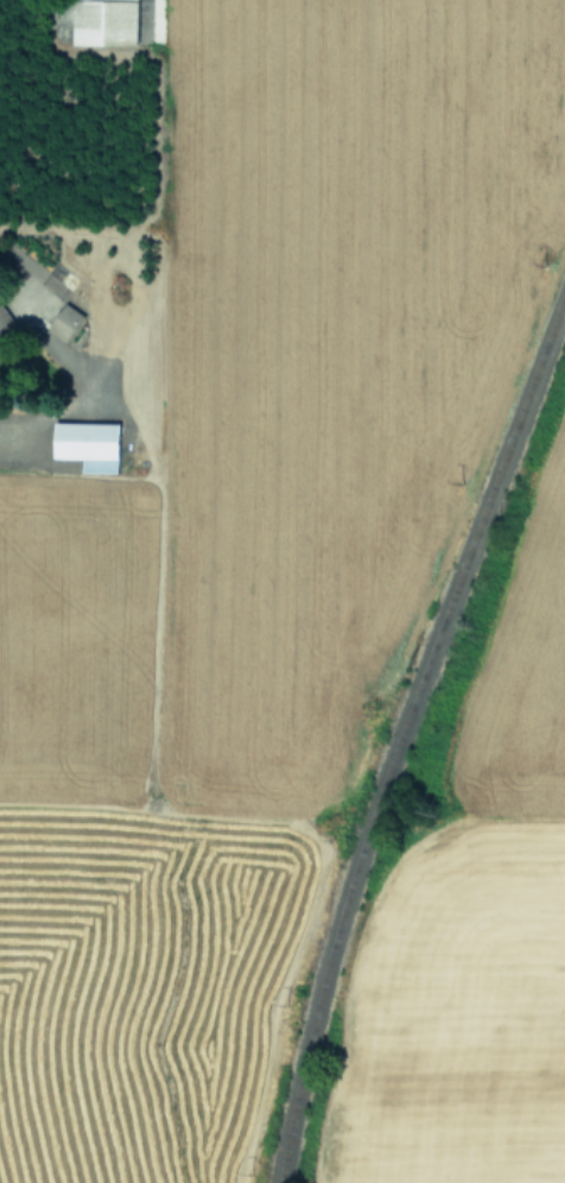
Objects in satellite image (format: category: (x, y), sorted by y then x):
building: (106, 21)
road: (7, 260)
building: (69, 281)
building: (4, 318)
building: (64, 321)
building: (0, 340)
building: (88, 444)
railway: (399, 730)
crop: (489, 947)

